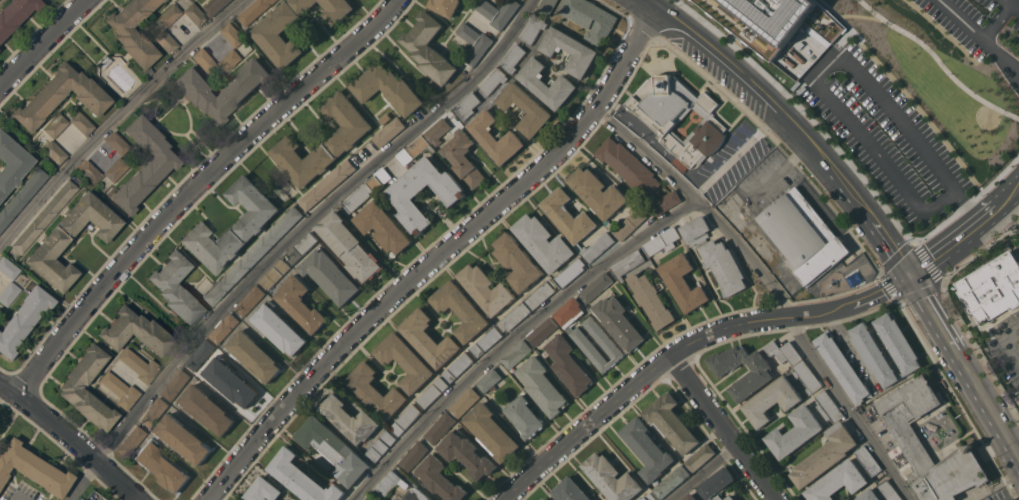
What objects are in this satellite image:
road: (1011, 5)
building: (214, 6)
building: (444, 6)
building: (546, 6)
building: (337, 9)
building: (253, 10)
building: (498, 11)
building: (15, 14)
building: (168, 15)
building: (194, 15)
road: (859, 15)
building: (590, 18)
road: (842, 21)
road: (995, 21)
building: (532, 28)
building: (780, 28)
road: (941, 30)
building: (133, 31)
building: (281, 31)
building: (232, 34)
road: (980, 36)
building: (165, 41)
building: (474, 43)
road: (44, 44)
building: (428, 48)
building: (569, 50)
building: (512, 57)
building: (229, 60)
road: (938, 61)
building: (205, 62)
building: (493, 80)
road: (816, 80)
building: (546, 83)
building: (386, 87)
building: (222, 89)
building: (60, 96)
building: (466, 105)
building: (524, 108)
road: (803, 112)
road: (922, 114)
building: (678, 116)
road: (117, 118)
building: (81, 123)
road: (795, 123)
building: (55, 126)
building: (437, 130)
building: (389, 131)
building: (495, 137)
building: (344, 138)
building: (116, 143)
building: (414, 149)
building: (54, 151)
building: (463, 158)
building: (11, 164)
building: (144, 164)
building: (627, 165)
building: (115, 169)
building: (89, 172)
building: (379, 179)
building: (326, 184)
road: (196, 188)
building: (402, 195)
building: (21, 197)
building: (357, 198)
building: (607, 200)
building: (666, 201)
road: (967, 201)
road: (965, 207)
building: (44, 217)
building: (250, 223)
building: (575, 224)
building: (383, 226)
building: (748, 229)
road: (966, 233)
building: (803, 235)
road: (291, 238)
building: (662, 240)
building: (53, 241)
building: (543, 242)
building: (350, 245)
building: (301, 247)
road: (980, 249)
building: (715, 255)
building: (252, 256)
road: (439, 256)
building: (518, 261)
building: (628, 263)
road: (885, 267)
building: (8, 268)
building: (570, 272)
building: (274, 273)
building: (330, 275)
traffic signals: (910, 276)
building: (683, 282)
building: (595, 286)
road: (773, 287)
building: (992, 287)
building: (175, 288)
building: (486, 288)
building: (8, 293)
building: (540, 294)
building: (651, 299)
building: (249, 300)
building: (300, 303)
building: (461, 309)
building: (514, 316)
building: (23, 319)
building: (618, 321)
building: (223, 327)
building: (279, 328)
building: (542, 330)
building: (135, 332)
road: (516, 336)
building: (428, 338)
building: (485, 341)
building: (898, 342)
building: (585, 343)
road: (686, 346)
building: (784, 351)
road: (978, 352)
building: (516, 353)
building: (200, 354)
building: (873, 354)
building: (253, 355)
building: (405, 360)
building: (569, 364)
building: (139, 366)
building: (457, 367)
building: (843, 367)
road: (964, 368)
building: (760, 372)
building: (807, 376)
building: (489, 380)
building: (230, 381)
building: (176, 384)
building: (542, 386)
building: (70, 388)
building: (119, 390)
building: (375, 391)
building: (432, 392)
building: (772, 400)
building: (464, 401)
building: (828, 406)
building: (206, 409)
building: (154, 412)
building: (524, 416)
building: (349, 419)
building: (405, 419)
building: (671, 422)
building: (440, 427)
road: (723, 427)
building: (491, 432)
building: (794, 432)
building: (904, 432)
building: (182, 438)
building: (131, 441)
road: (69, 442)
building: (381, 446)
building: (647, 448)
building: (333, 449)
building: (466, 454)
building: (825, 455)
building: (413, 456)
building: (698, 457)
building: (868, 460)
building: (161, 466)
building: (32, 469)
road: (703, 472)
building: (611, 477)
building: (301, 478)
building: (439, 478)
building: (671, 480)
building: (837, 481)
building: (389, 484)
building: (717, 484)
building: (263, 490)
building: (569, 490)
building: (889, 490)
building: (418, 495)
building: (869, 495)
building: (371, 497)
building: (648, 497)
building: (690, 497)
building: (77, 499)
building: (544, 499)
building: (602, 499)
building: (602, 499)
road: (1018, 499)

